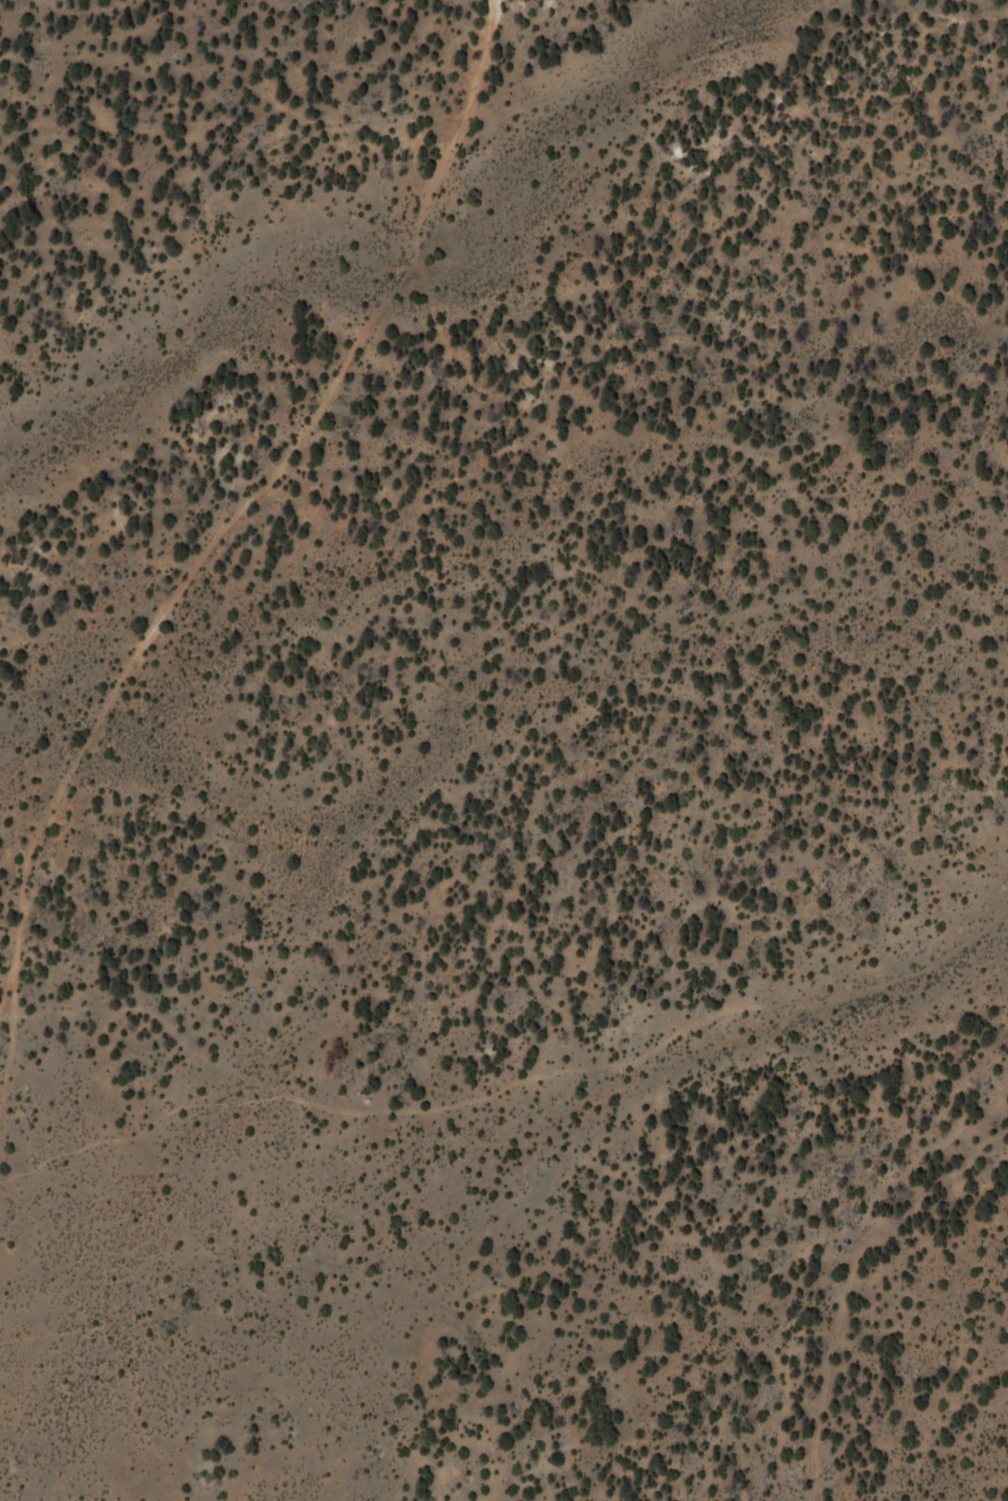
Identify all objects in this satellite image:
road: (478, 66)
road: (309, 419)
road: (6, 1015)
road: (515, 1083)

